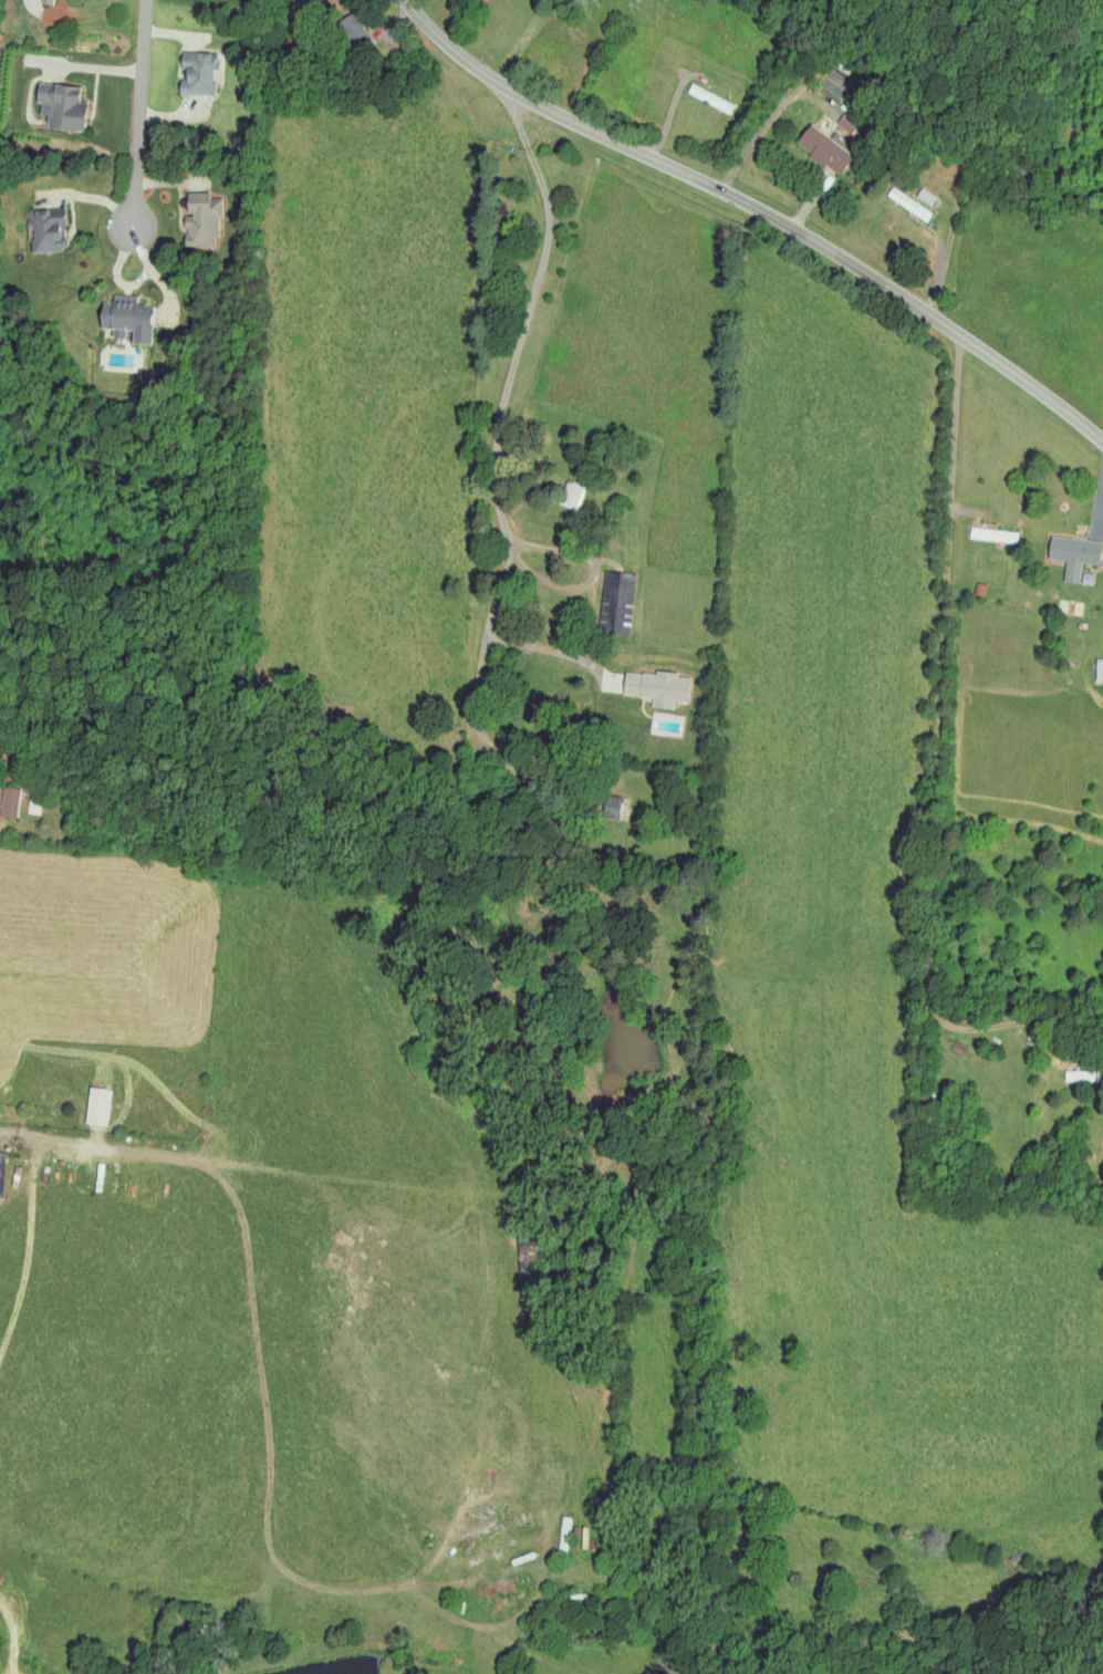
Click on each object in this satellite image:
building: (45, 1)
building: (196, 73)
building: (706, 97)
building: (58, 106)
road: (138, 114)
road: (766, 121)
building: (845, 123)
building: (822, 149)
road: (961, 196)
building: (907, 204)
road: (759, 209)
building: (198, 221)
building: (45, 229)
building: (124, 319)
road: (493, 417)
building: (571, 495)
road: (1100, 523)
building: (991, 536)
building: (1072, 555)
road: (583, 557)
building: (978, 590)
building: (616, 602)
building: (1069, 607)
road: (556, 652)
building: (1099, 669)
building: (655, 686)
road: (941, 753)
building: (9, 800)
road: (7, 826)
building: (1082, 1074)
building: (94, 1104)
building: (1, 1172)

